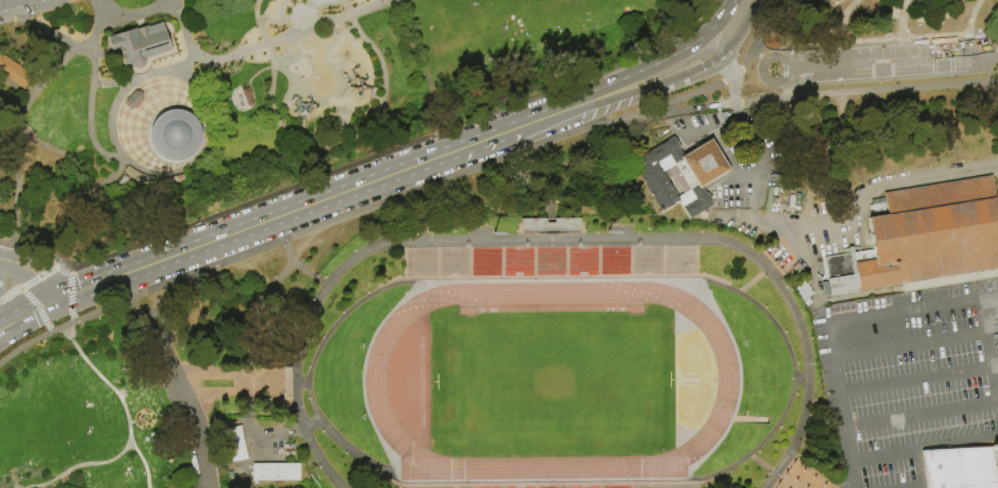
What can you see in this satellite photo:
road: (9, 3)
parking lot: (23, 8)
road: (101, 10)
park: (568, 11)
park: (528, 13)
road: (136, 14)
park: (477, 14)
park: (439, 17)
road: (900, 17)
road: (772, 23)
road: (37, 26)
road: (726, 28)
road: (185, 29)
road: (742, 31)
road: (967, 33)
road: (757, 35)
road: (876, 37)
building: (137, 43)
road: (267, 44)
road: (968, 46)
road: (903, 48)
road: (420, 52)
road: (665, 59)
road: (680, 59)
road: (764, 60)
road: (886, 61)
park: (874, 62)
road: (793, 70)
building: (13, 71)
road: (205, 74)
road: (682, 74)
road: (731, 75)
road: (123, 81)
road: (95, 83)
road: (734, 84)
road: (15, 86)
road: (90, 87)
road: (868, 90)
building: (246, 96)
road: (614, 96)
building: (132, 98)
road: (675, 100)
road: (732, 103)
road: (676, 110)
road: (550, 116)
road: (20, 118)
road: (613, 120)
road: (709, 127)
building: (173, 134)
road: (33, 141)
road: (329, 148)
road: (395, 150)
road: (423, 163)
road: (758, 164)
road: (188, 165)
building: (679, 175)
road: (548, 177)
building: (176, 179)
building: (121, 180)
road: (909, 180)
road: (93, 188)
road: (548, 208)
road: (349, 213)
road: (746, 218)
building: (550, 225)
road: (244, 230)
road: (782, 230)
road: (828, 235)
building: (923, 237)
road: (801, 239)
road: (393, 242)
park: (496, 242)
road: (29, 250)
road: (35, 262)
road: (298, 267)
building: (795, 267)
road: (112, 271)
road: (814, 271)
building: (977, 275)
road: (37, 276)
road: (24, 277)
road: (752, 281)
road: (402, 283)
road: (115, 285)
road: (64, 288)
road: (20, 289)
traffic signals: (59, 290)
road: (12, 291)
road: (52, 292)
road: (69, 293)
traffic signals: (45, 295)
road: (2, 297)
road: (62, 297)
road: (39, 298)
road: (49, 303)
road: (68, 304)
road: (36, 305)
traffic signals: (66, 305)
road: (59, 308)
road: (15, 310)
traffic signals: (53, 311)
road: (252, 311)
road: (47, 313)
road: (139, 315)
road: (70, 318)
road: (829, 323)
road: (21, 324)
road: (48, 328)
road: (48, 331)
road: (802, 340)
road: (908, 342)
road: (989, 347)
building: (263, 361)
road: (279, 362)
stadium: (552, 364)
road: (219, 373)
road: (362, 376)
road: (915, 377)
parking lot: (908, 378)
road: (800, 379)
park: (553, 380)
track: (728, 381)
road: (245, 382)
building: (284, 382)
road: (289, 383)
road: (740, 384)
road: (238, 391)
road: (258, 391)
road: (274, 399)
road: (274, 399)
road: (119, 400)
building: (262, 403)
road: (186, 407)
park: (45, 409)
road: (204, 411)
road: (920, 415)
road: (309, 425)
road: (274, 436)
building: (233, 443)
building: (996, 452)
road: (801, 460)
road: (79, 465)
building: (960, 468)
building: (273, 471)
road: (771, 472)
road: (702, 478)

